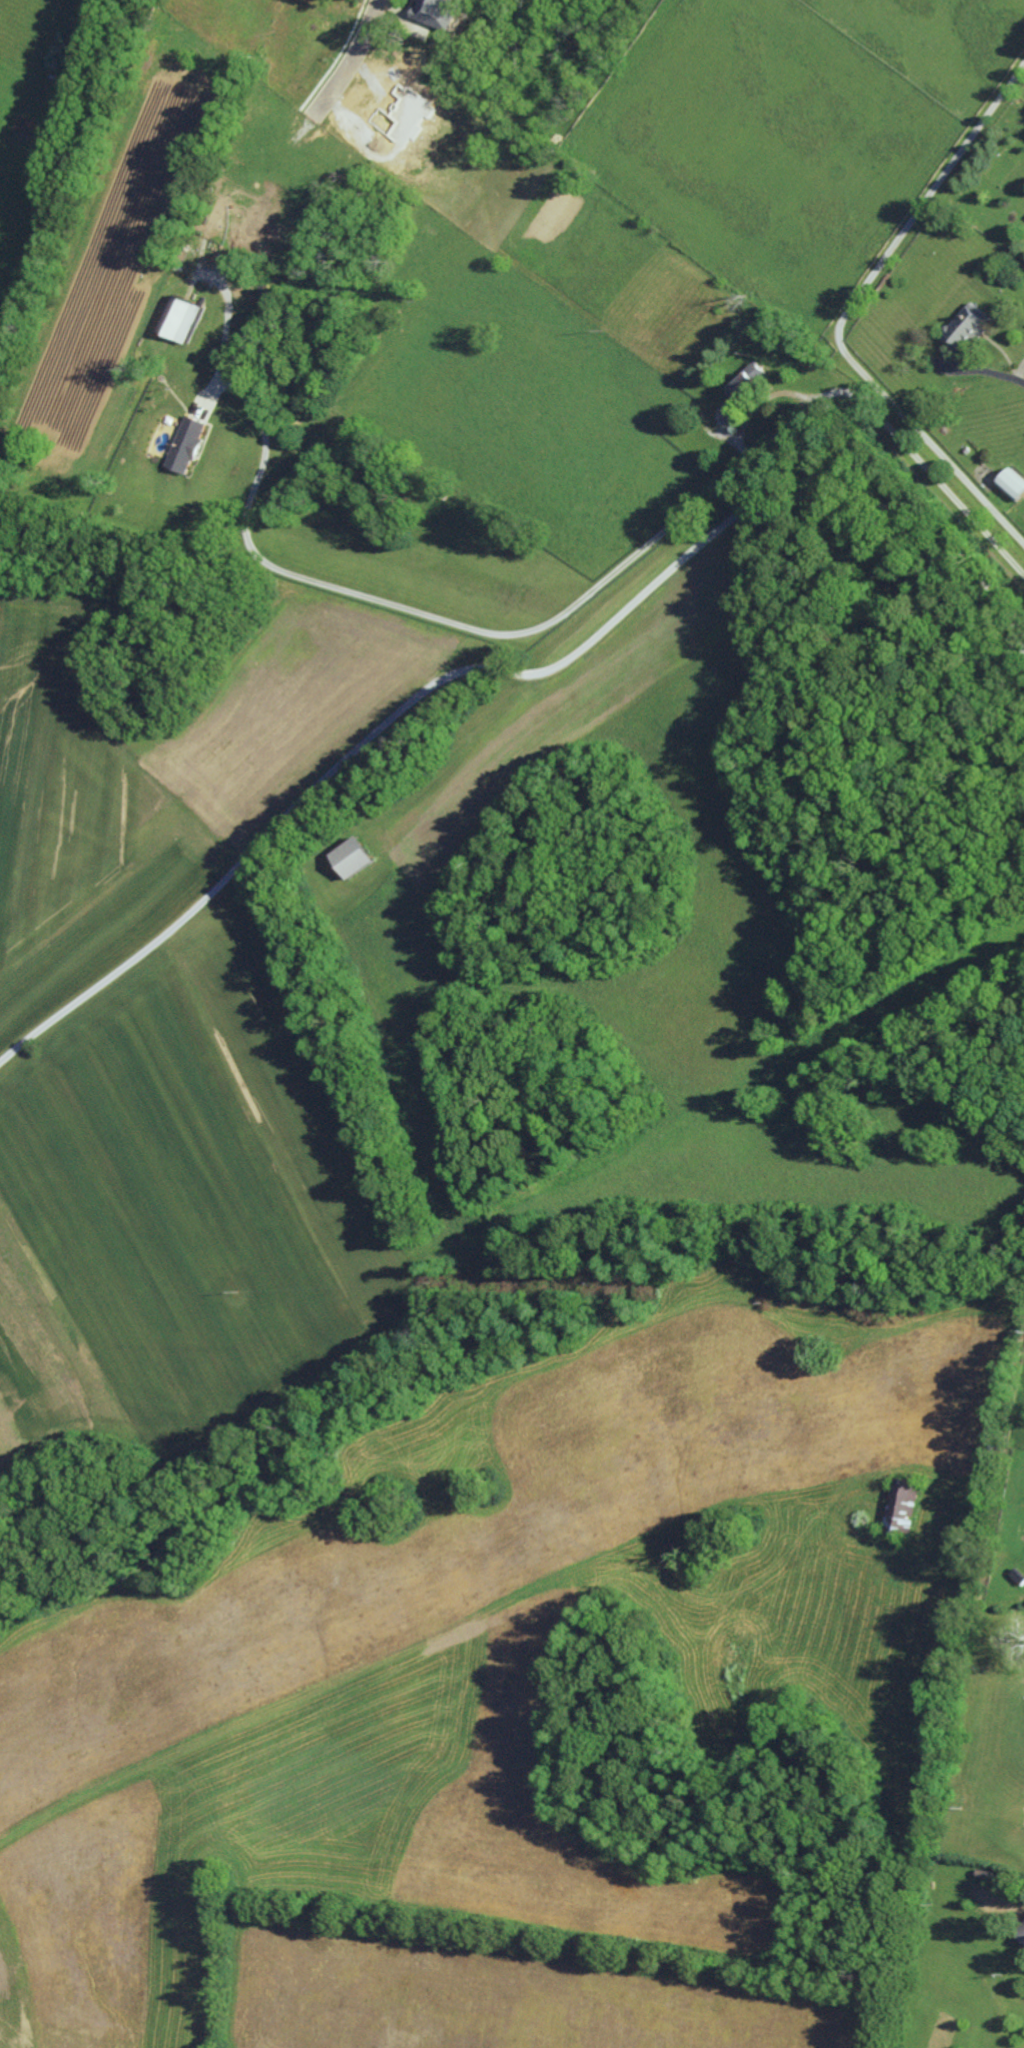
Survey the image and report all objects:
building: (437, 13)
road: (346, 58)
road: (846, 314)
building: (181, 319)
building: (966, 328)
road: (995, 376)
building: (187, 445)
road: (938, 484)
building: (1012, 484)
road: (469, 629)
road: (511, 676)
building: (352, 858)
building: (903, 1506)
building: (1020, 1933)

